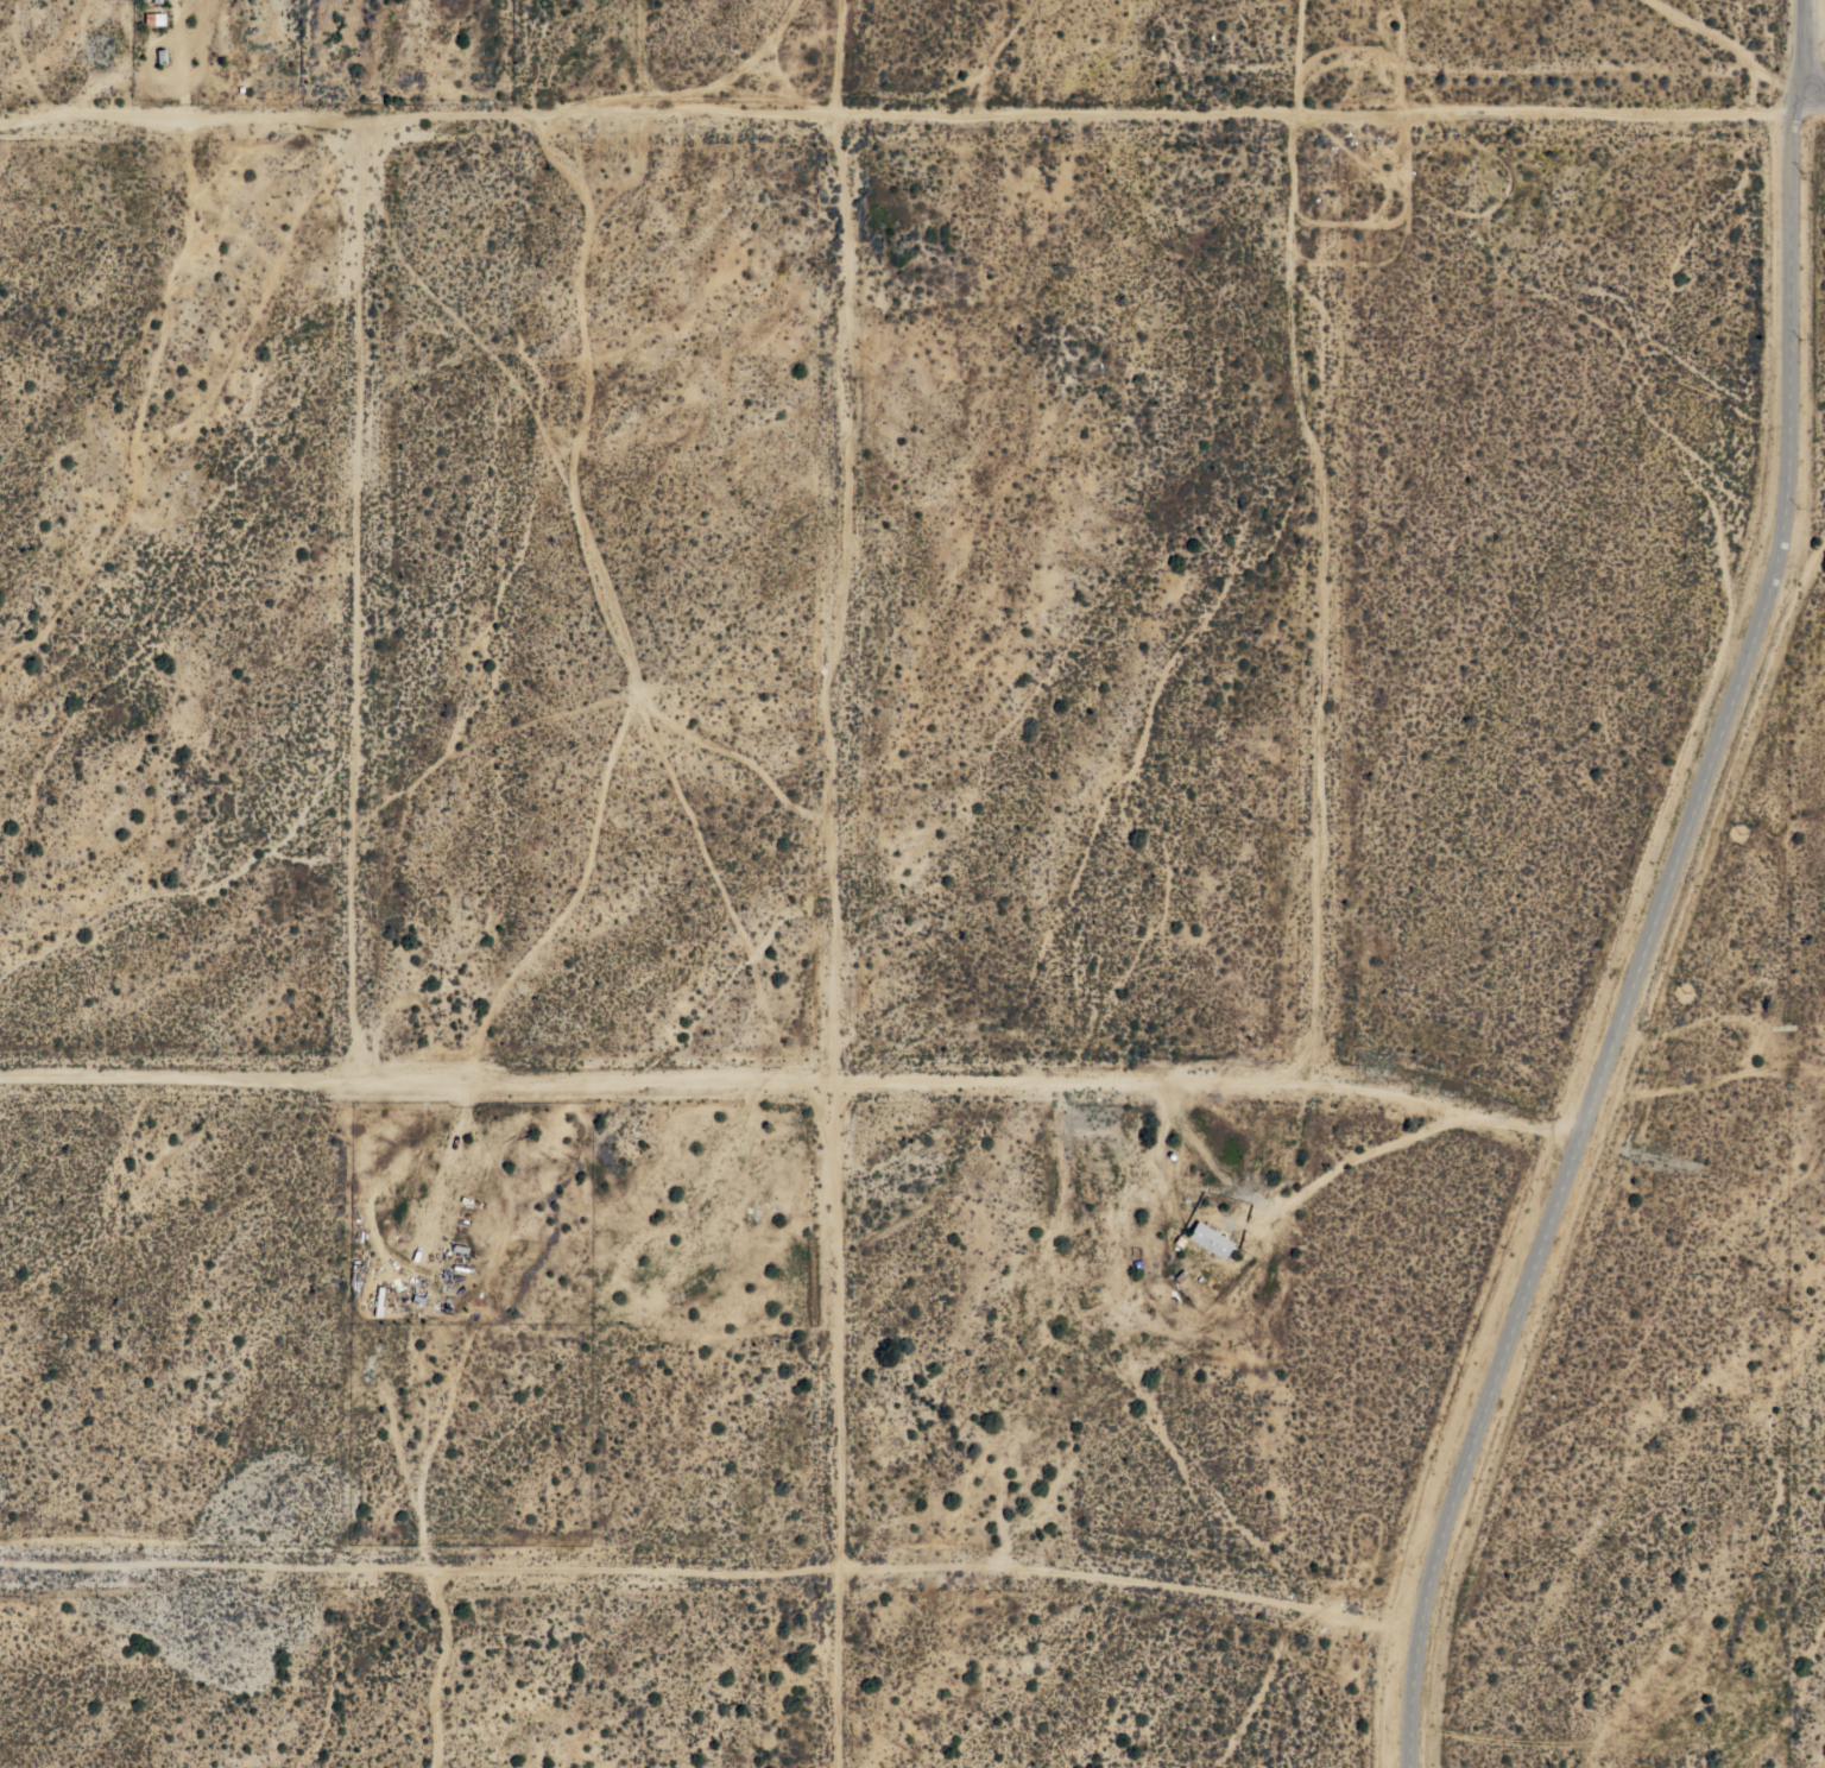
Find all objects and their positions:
building: (156, 1)
building: (152, 19)
road: (1808, 55)
road: (839, 58)
road: (1810, 107)
road: (897, 116)
road: (1649, 945)
road: (790, 1076)
building: (1208, 1239)
road: (711, 1572)

